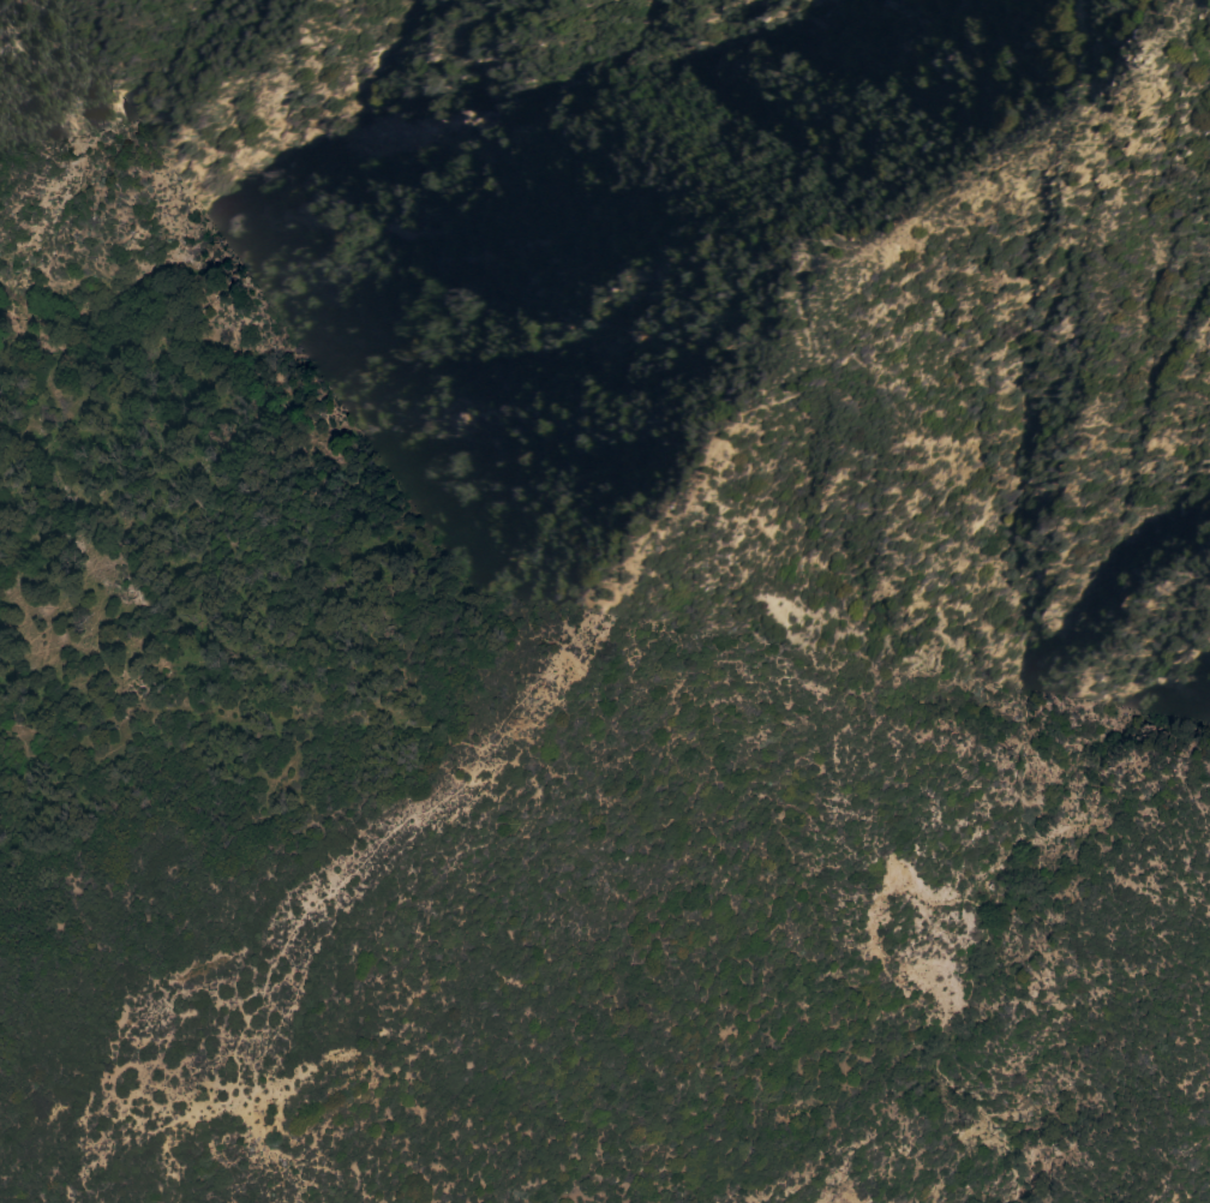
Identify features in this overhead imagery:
road: (637, 573)
road: (260, 659)

